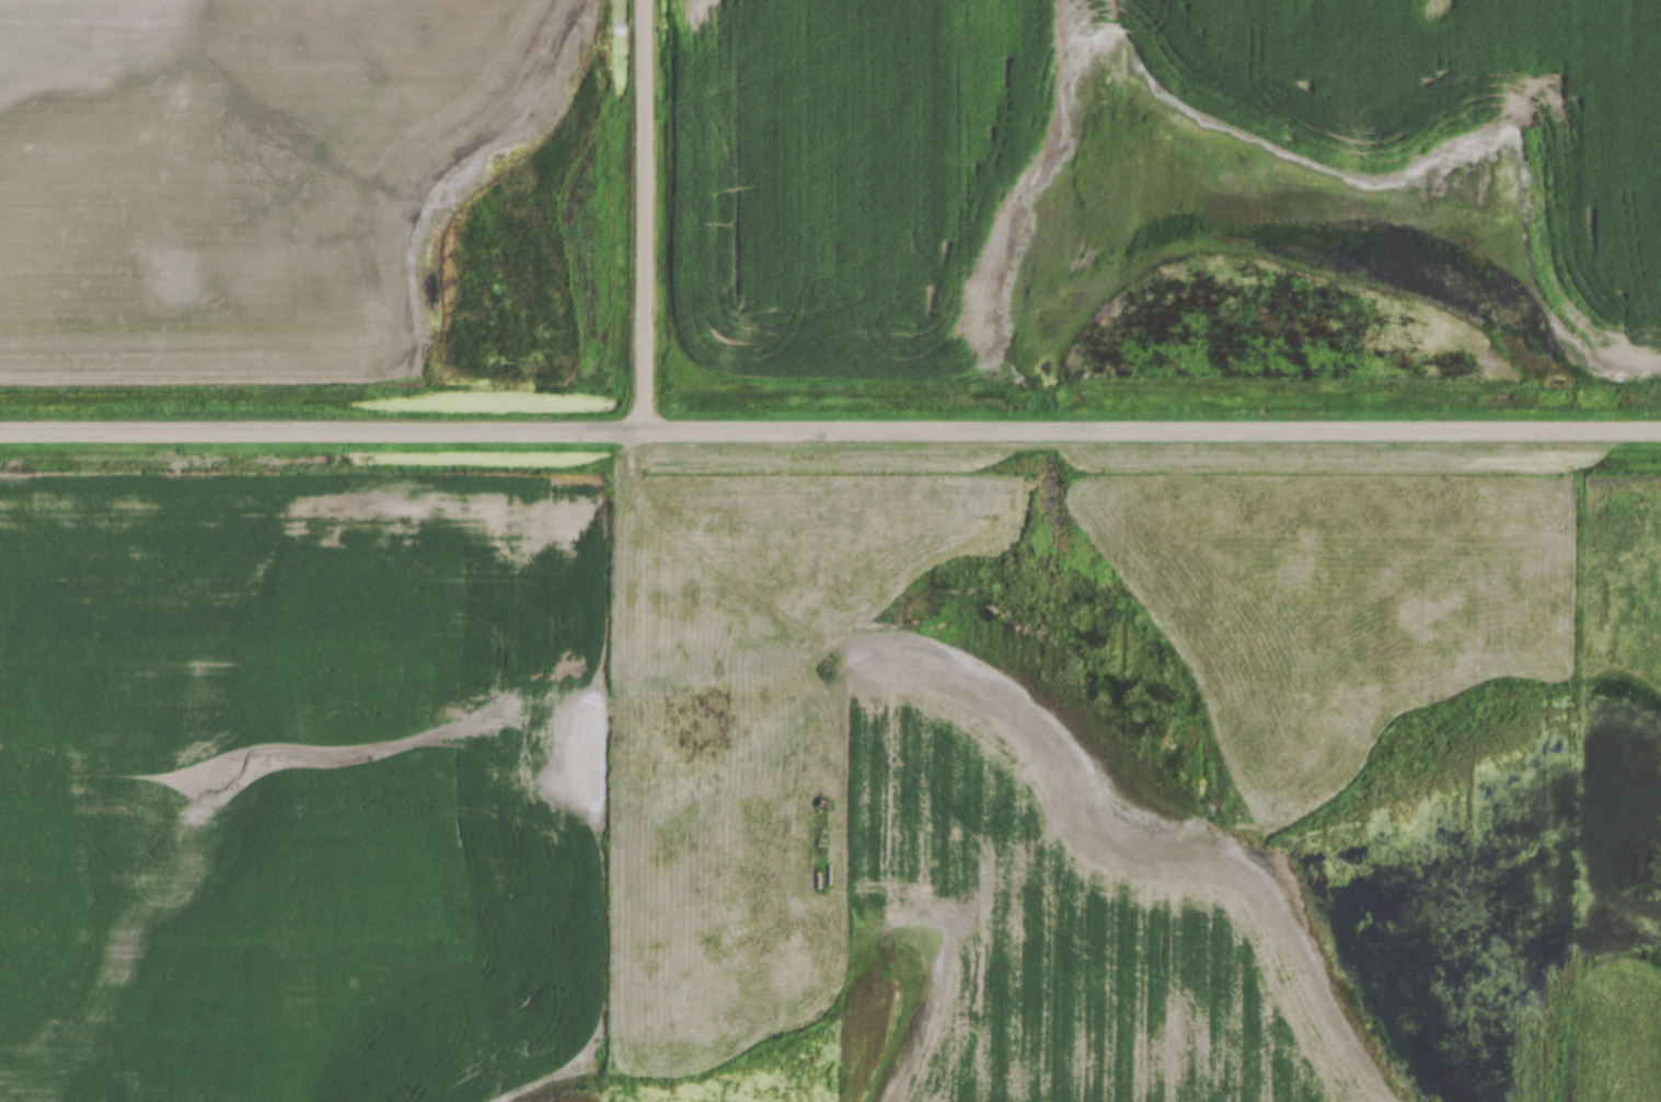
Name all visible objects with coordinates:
road: (641, 216)
road: (830, 432)

